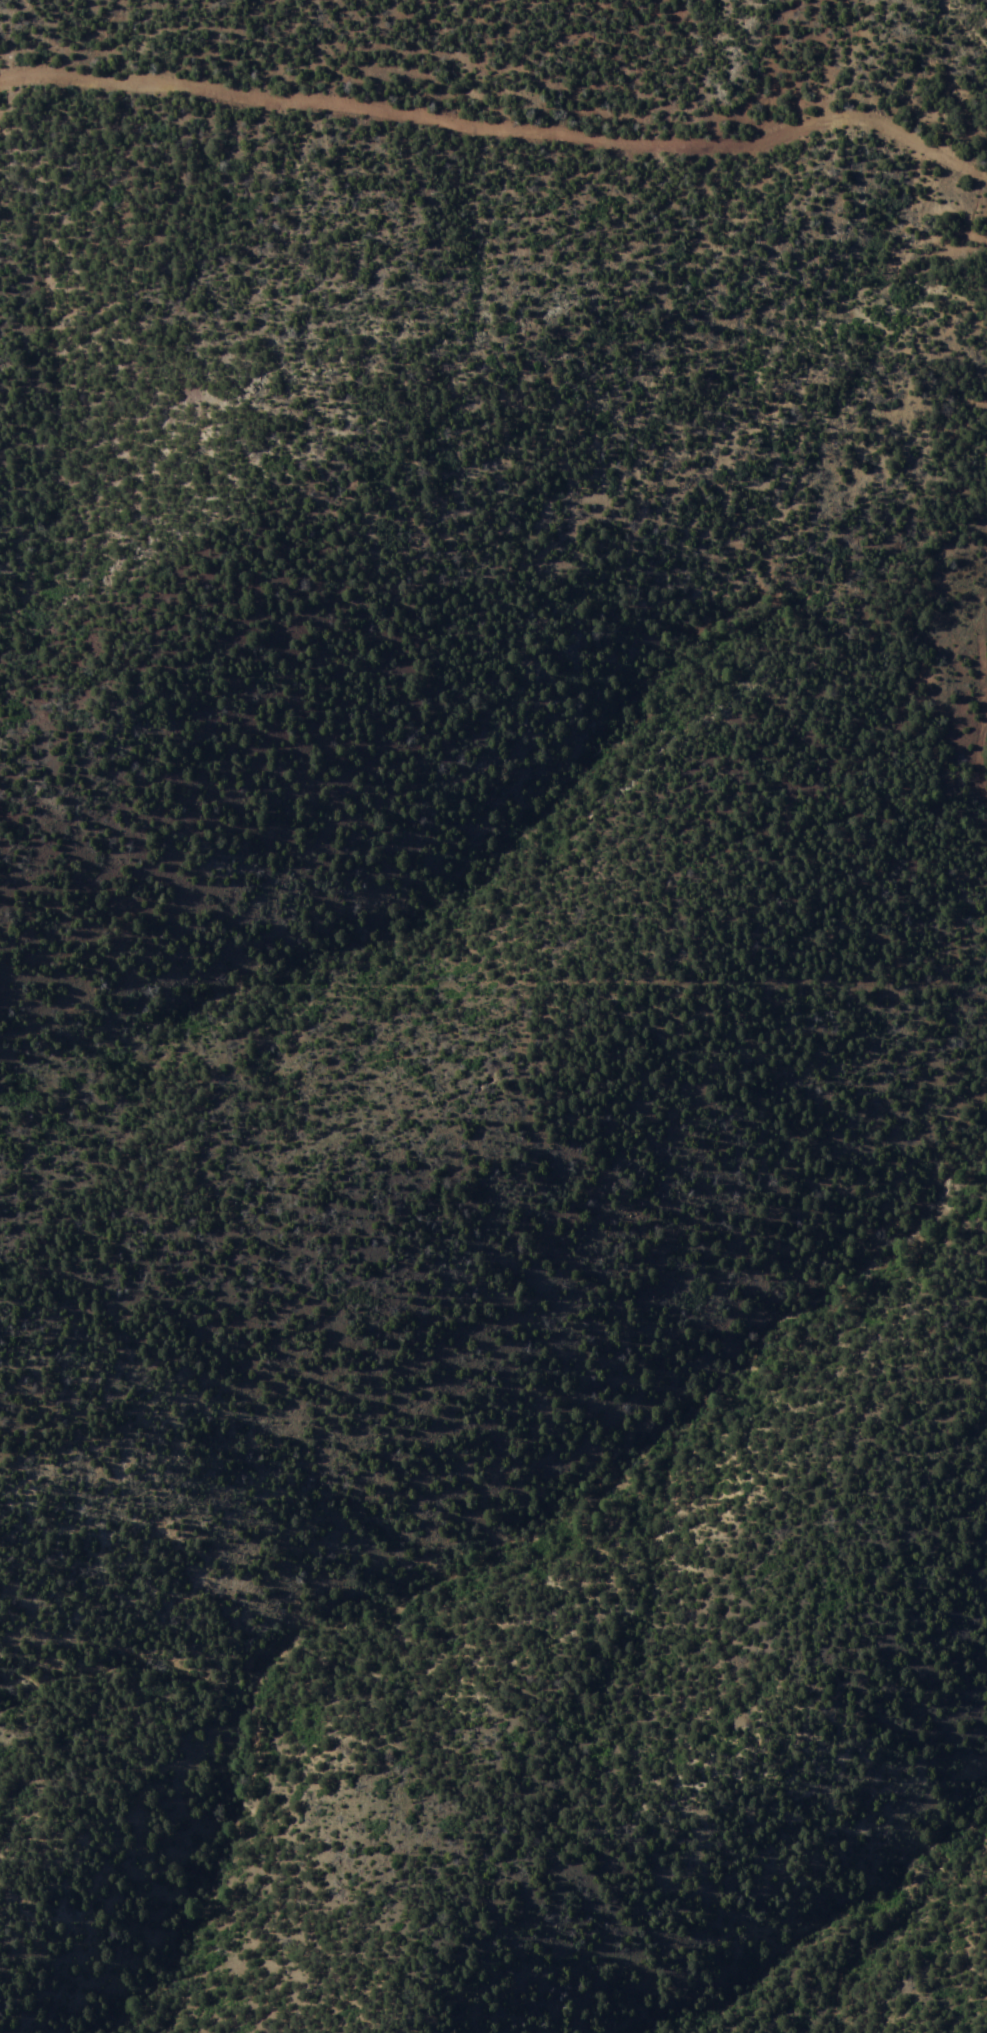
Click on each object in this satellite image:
road: (494, 146)

